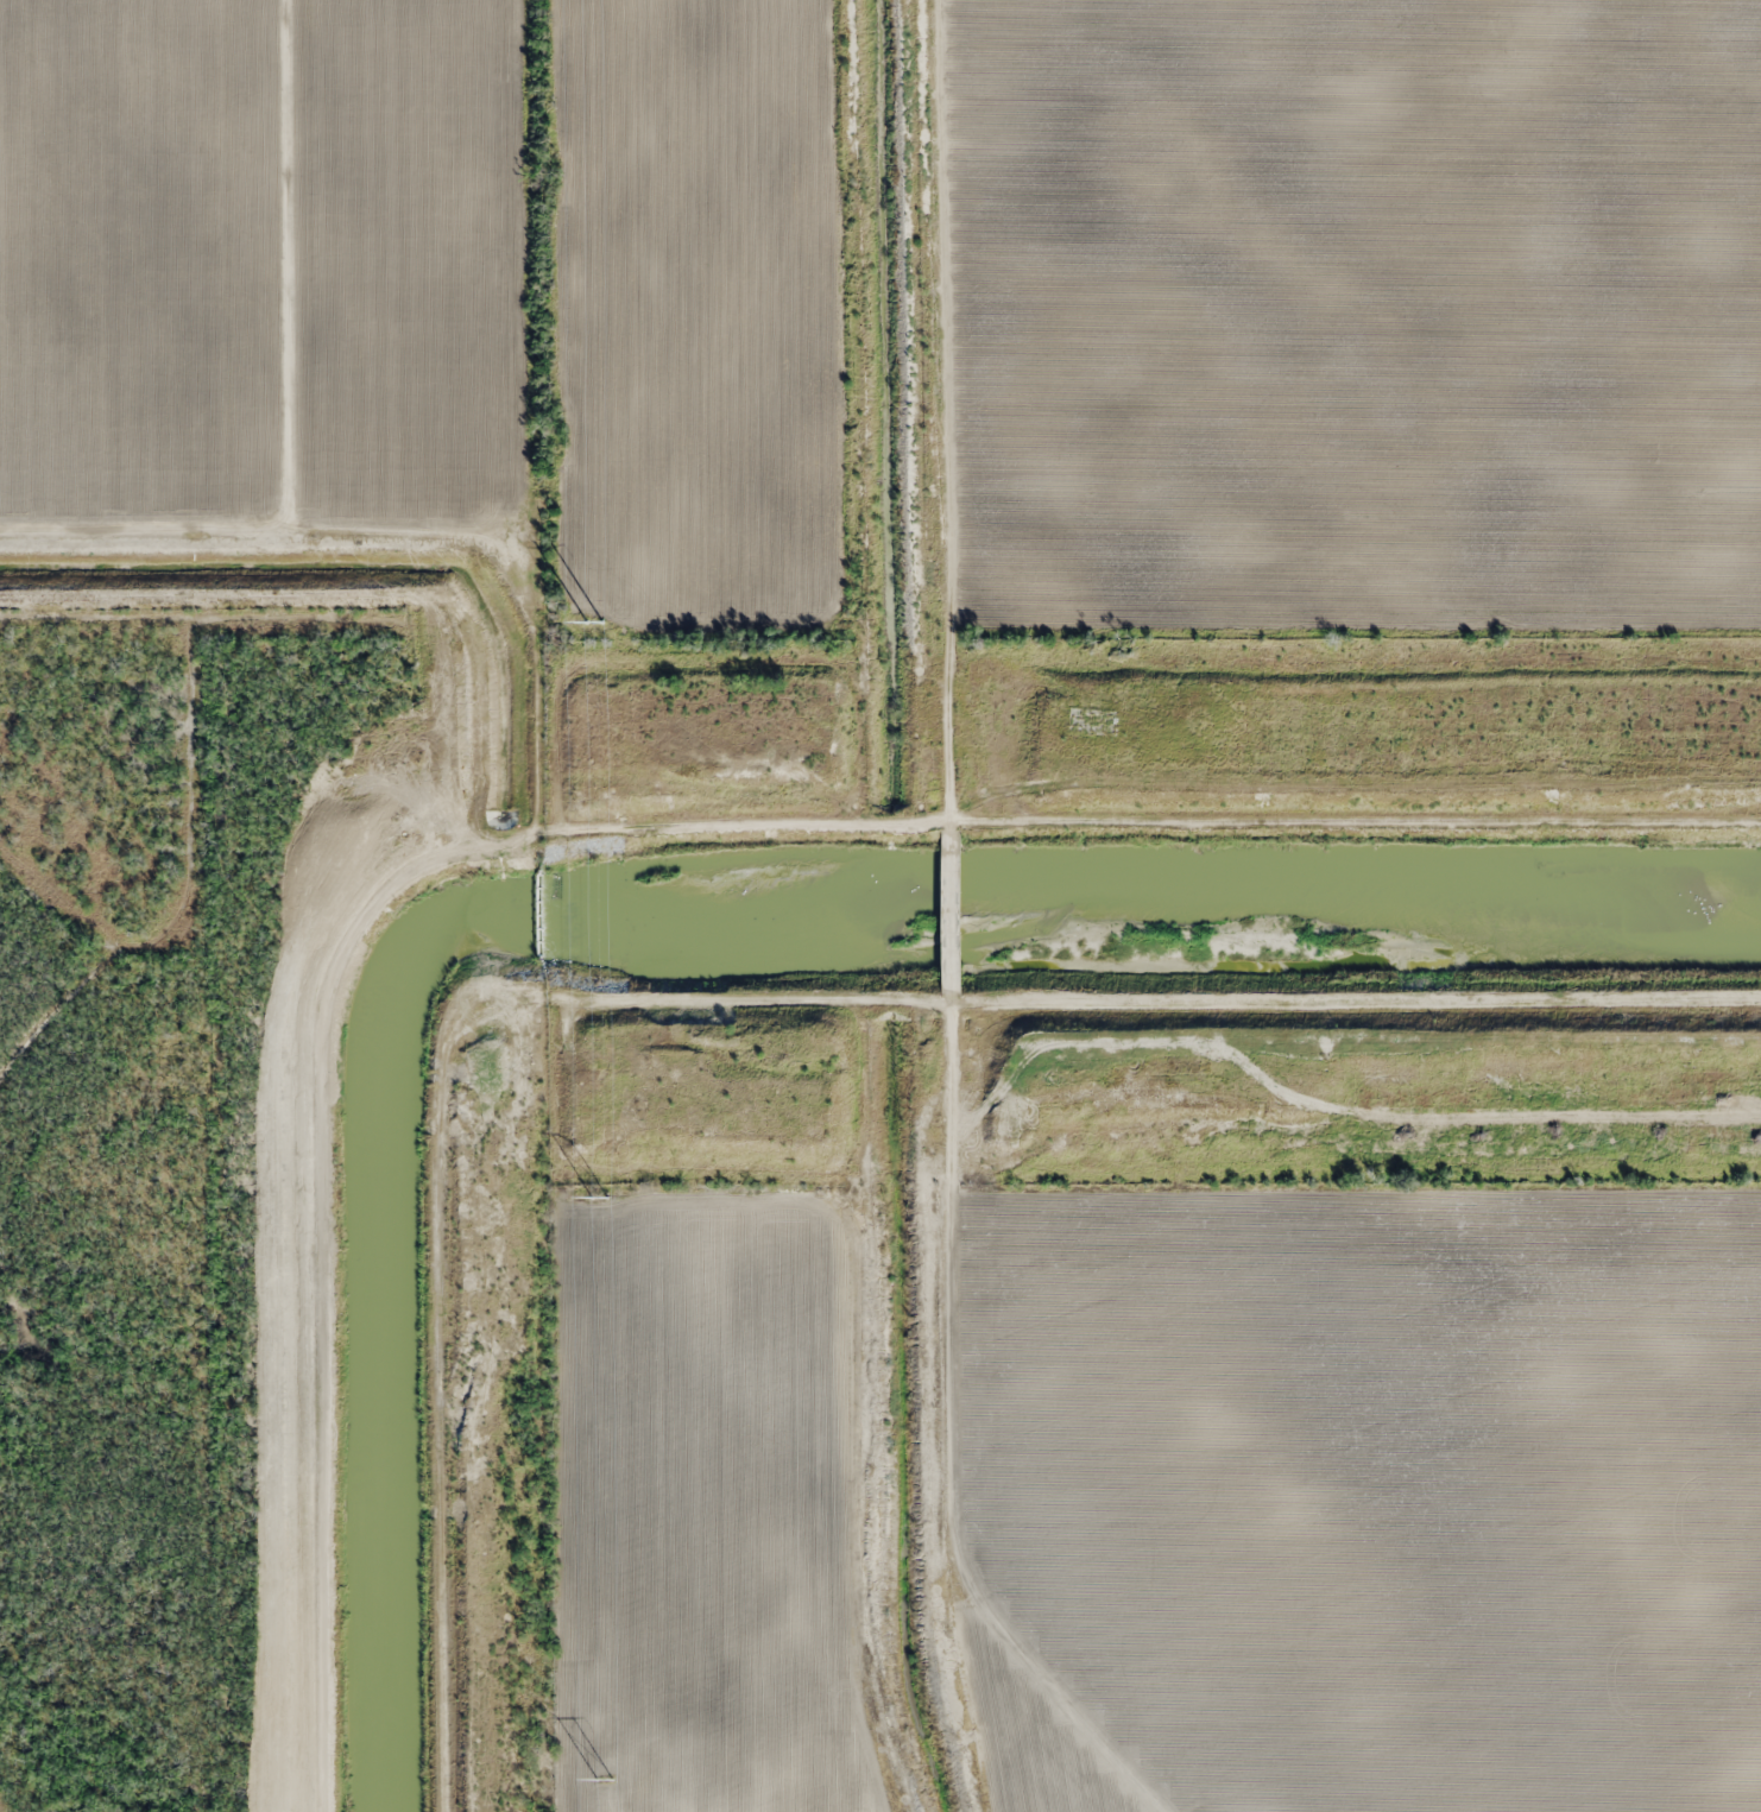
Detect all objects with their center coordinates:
road: (280, 261)
road: (245, 523)
power tower: (594, 613)
power tower: (598, 1201)
power tower: (602, 1780)

